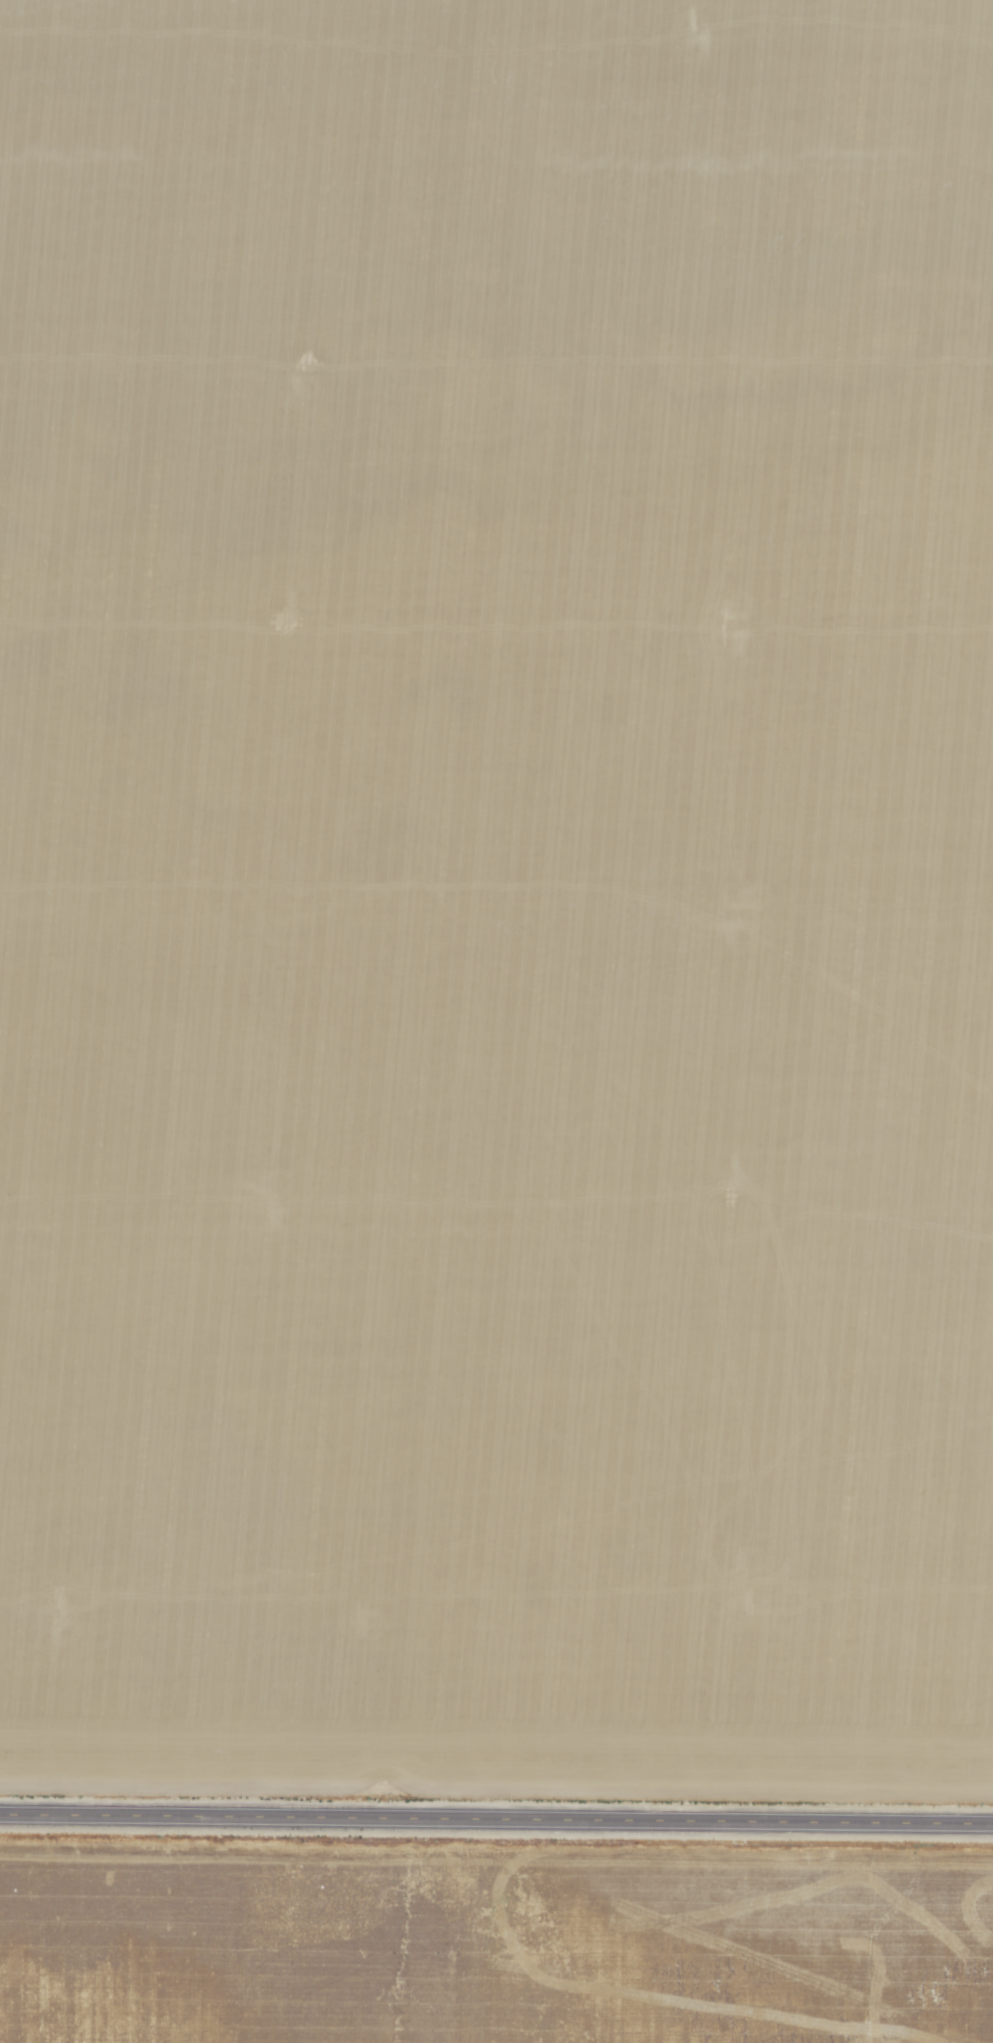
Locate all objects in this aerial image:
road: (496, 1822)

